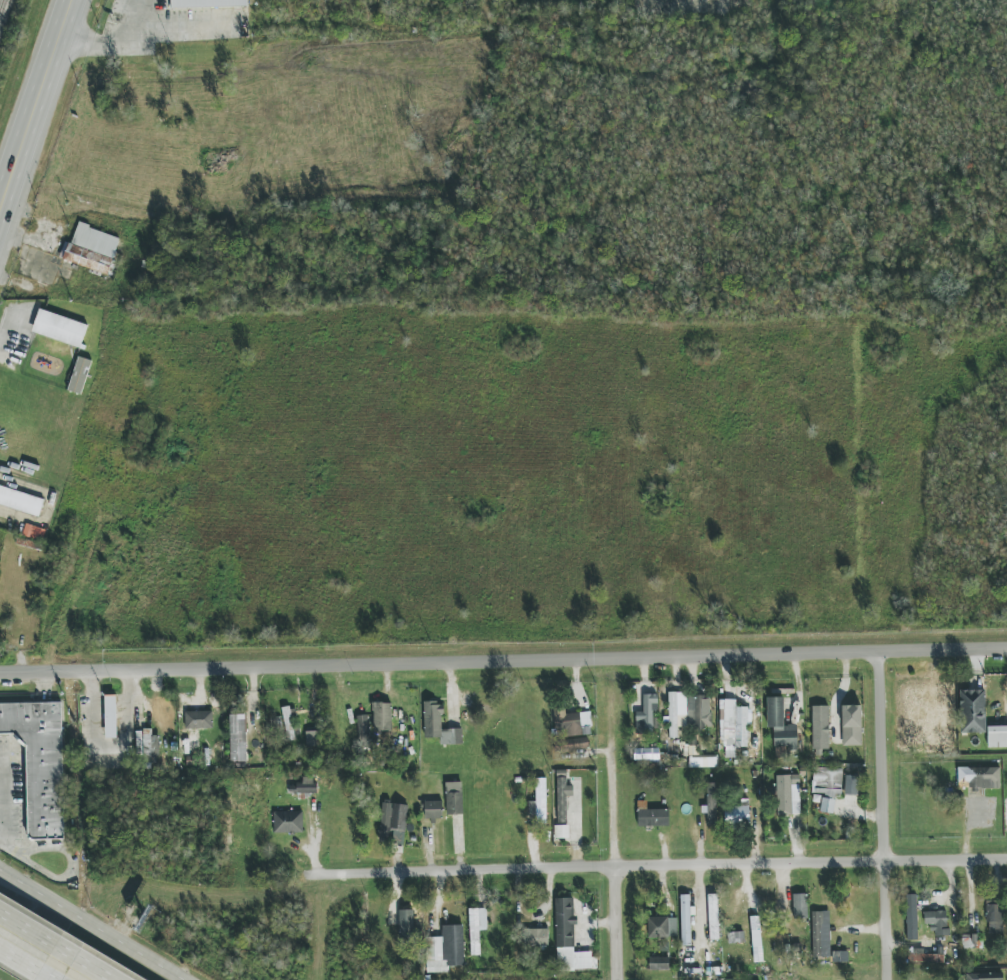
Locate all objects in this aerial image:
building: (208, 3)
railway: (2, 7)
road: (187, 32)
road: (122, 49)
road: (41, 120)
road: (232, 210)
building: (91, 249)
building: (59, 328)
building: (80, 375)
building: (21, 501)
building: (34, 532)
road: (503, 663)
building: (972, 711)
building: (687, 712)
building: (646, 714)
building: (111, 716)
building: (382, 717)
building: (198, 720)
building: (276, 723)
building: (289, 724)
building: (578, 724)
building: (780, 724)
building: (852, 725)
building: (439, 726)
building: (734, 727)
building: (363, 729)
building: (820, 729)
building: (997, 737)
building: (312, 738)
building: (238, 739)
building: (147, 744)
building: (578, 744)
road: (109, 746)
building: (703, 762)
building: (40, 763)
building: (983, 778)
building: (852, 785)
building: (303, 786)
building: (827, 787)
building: (787, 795)
building: (454, 798)
building: (562, 799)
building: (539, 801)
building: (711, 804)
building: (433, 810)
road: (620, 812)
building: (736, 814)
building: (653, 817)
road: (882, 819)
building: (288, 822)
building: (393, 823)
road: (814, 866)
road: (485, 875)
building: (800, 906)
building: (713, 917)
building: (912, 917)
building: (995, 917)
building: (685, 920)
building: (937, 922)
building: (406, 924)
road: (91, 925)
road: (622, 925)
building: (662, 927)
building: (476, 928)
building: (821, 934)
building: (535, 937)
building: (568, 938)
building: (756, 939)
building: (737, 940)
building: (969, 941)
road: (58, 946)
building: (445, 950)
building: (924, 957)
road: (27, 964)
building: (659, 964)
building: (985, 976)

